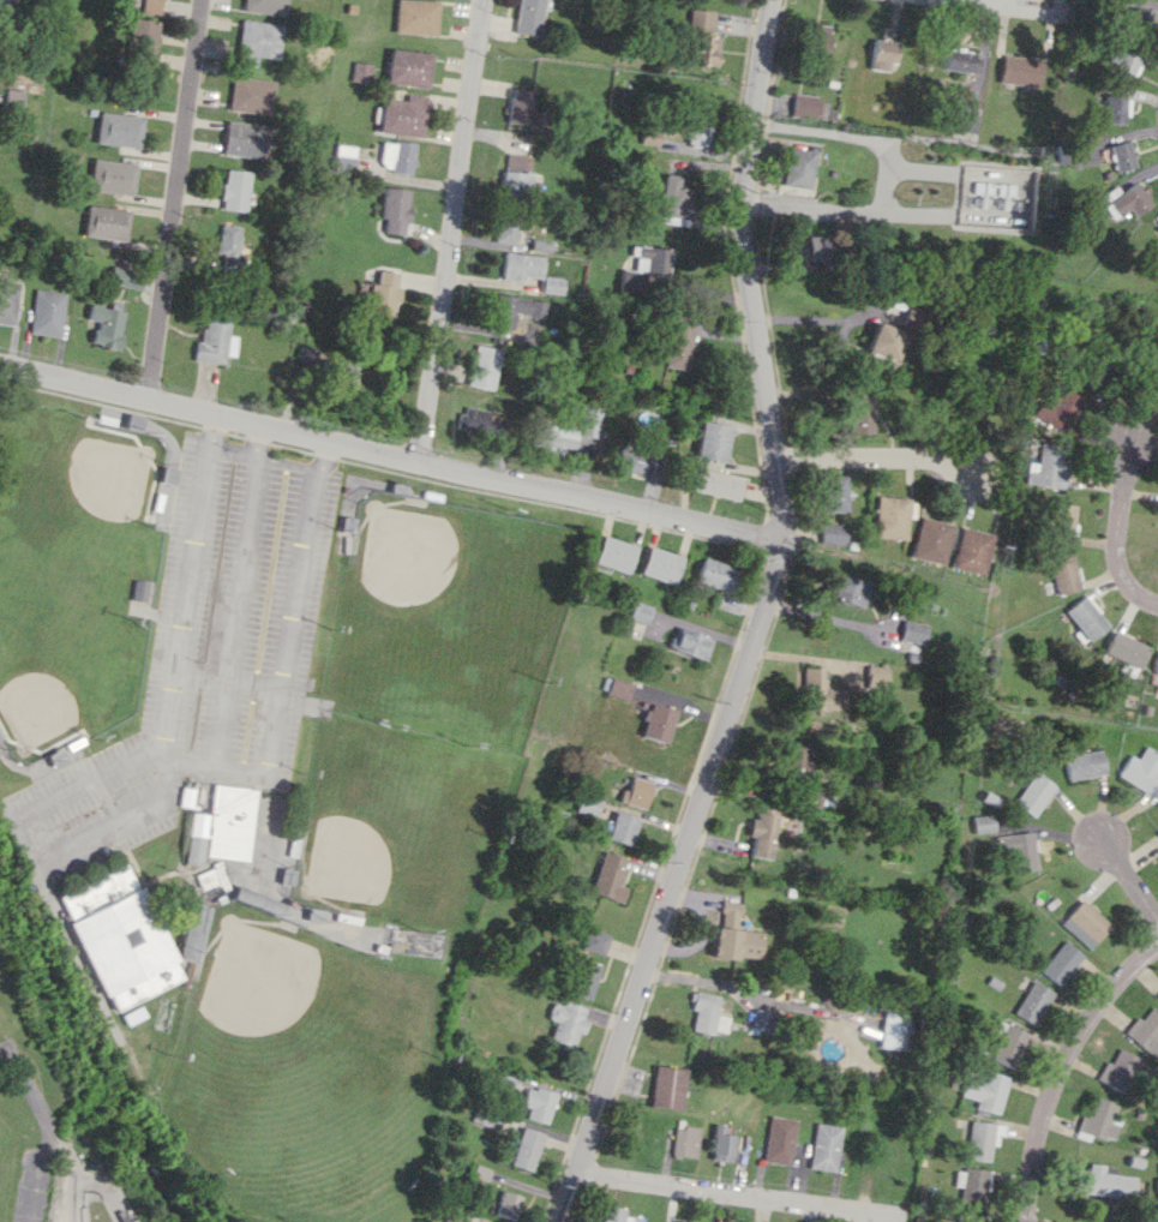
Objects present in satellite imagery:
building: (1, 6)
building: (152, 6)
building: (263, 6)
road: (1015, 6)
building: (414, 17)
building: (527, 17)
building: (1140, 17)
building: (817, 34)
building: (703, 37)
building: (144, 40)
building: (256, 41)
building: (966, 60)
building: (1123, 65)
building: (407, 67)
building: (1021, 70)
building: (360, 72)
building: (250, 95)
building: (810, 106)
building: (521, 108)
building: (1116, 109)
building: (402, 115)
building: (967, 122)
building: (118, 130)
building: (698, 130)
building: (244, 139)
building: (397, 156)
building: (1122, 156)
building: (343, 158)
building: (517, 162)
building: (800, 168)
building: (112, 176)
road: (884, 178)
building: (515, 185)
building: (234, 190)
road: (173, 200)
building: (1128, 200)
building: (673, 202)
building: (394, 209)
building: (106, 222)
road: (750, 227)
road: (450, 230)
building: (503, 230)
building: (1157, 230)
building: (539, 245)
building: (227, 246)
building: (816, 247)
building: (520, 265)
building: (642, 269)
building: (125, 276)
building: (551, 283)
building: (380, 294)
building: (7, 300)
building: (515, 309)
building: (46, 312)
building: (104, 325)
building: (215, 339)
building: (883, 341)
building: (676, 346)
building: (484, 366)
building: (1097, 376)
building: (1154, 382)
building: (1060, 409)
building: (859, 415)
building: (484, 421)
building: (590, 421)
road: (210, 432)
building: (559, 439)
road: (256, 441)
building: (712, 441)
road: (230, 453)
road: (322, 454)
road: (878, 454)
road: (390, 455)
road: (286, 461)
building: (630, 461)
building: (1046, 466)
building: (715, 484)
building: (834, 492)
road: (1121, 498)
building: (889, 517)
building: (1061, 519)
building: (832, 533)
building: (930, 540)
building: (971, 550)
building: (613, 553)
building: (660, 564)
building: (1063, 571)
building: (714, 574)
road: (1128, 581)
building: (138, 589)
building: (846, 589)
road: (181, 603)
road: (233, 610)
building: (638, 612)
building: (1085, 618)
building: (661, 627)
building: (912, 631)
building: (690, 643)
road: (286, 645)
building: (1124, 652)
building: (1156, 664)
building: (878, 675)
road: (224, 681)
building: (619, 688)
building: (820, 691)
building: (658, 723)
building: (796, 760)
road: (184, 761)
building: (1085, 765)
building: (1141, 771)
building: (636, 792)
building: (1034, 793)
building: (587, 804)
building: (983, 823)
building: (221, 826)
building: (622, 827)
building: (1157, 833)
building: (761, 834)
road: (685, 839)
building: (1020, 851)
road: (1132, 874)
building: (607, 876)
building: (730, 910)
building: (1084, 923)
building: (113, 928)
building: (191, 932)
building: (594, 941)
building: (736, 942)
building: (1060, 963)
building: (584, 978)
building: (142, 986)
building: (1031, 1002)
building: (704, 1013)
building: (764, 1018)
building: (565, 1023)
building: (892, 1030)
building: (1144, 1031)
building: (1007, 1046)
building: (1116, 1070)
road: (1061, 1071)
building: (666, 1086)
building: (985, 1090)
building: (538, 1103)
building: (487, 1119)
building: (1098, 1119)
road: (48, 1130)
building: (779, 1139)
building: (980, 1139)
building: (685, 1142)
building: (721, 1143)
building: (824, 1146)
building: (526, 1149)
building: (1157, 1164)
road: (73, 1173)
building: (1102, 1181)
building: (971, 1184)
building: (1156, 1186)
road: (734, 1190)
building: (506, 1204)
building: (612, 1214)
building: (446, 1218)
building: (965, 1218)

